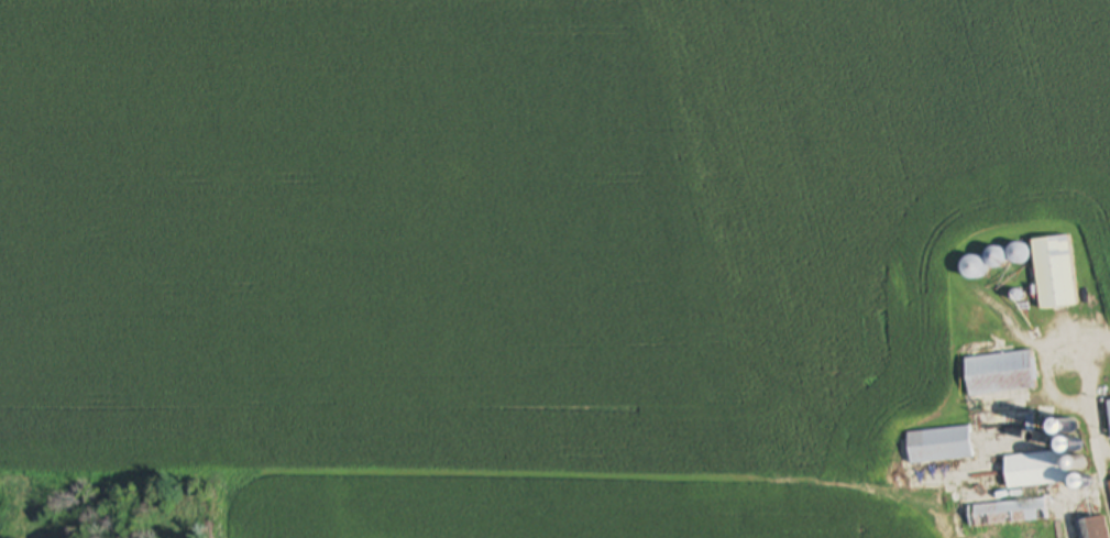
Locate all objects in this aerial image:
building: (996, 261)
building: (1055, 273)
building: (1000, 373)
road: (1087, 389)
building: (1109, 407)
building: (941, 446)
building: (1036, 470)
building: (1109, 483)
road: (1101, 484)
building: (1008, 513)
building: (1093, 528)

